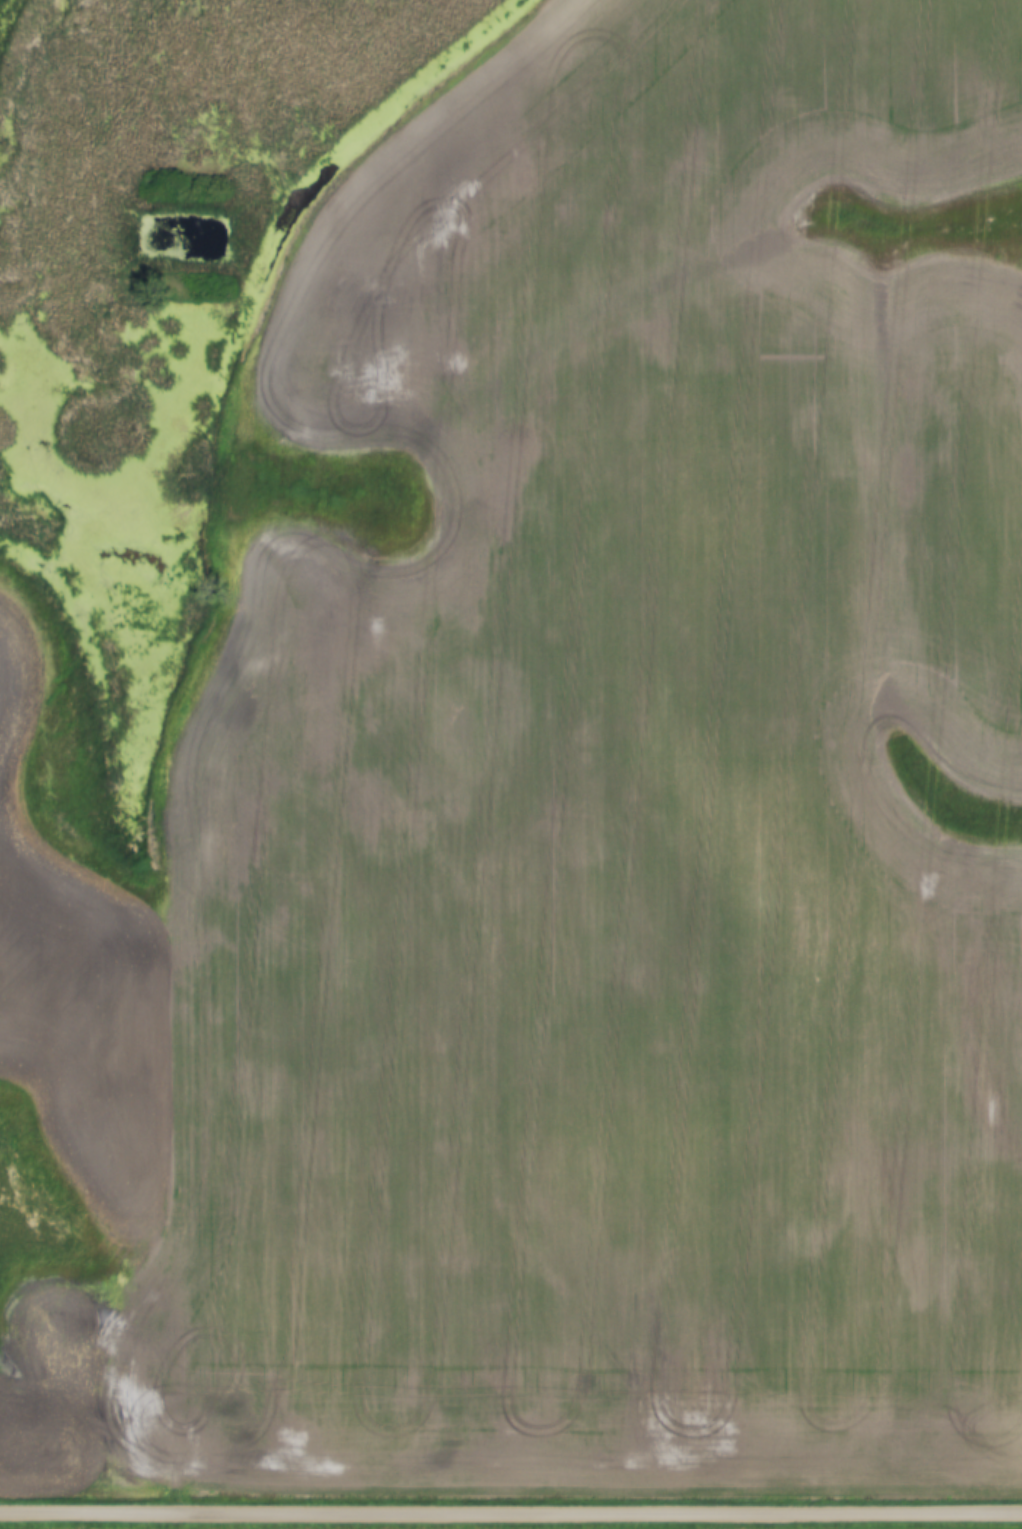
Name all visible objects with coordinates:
road: (511, 1511)

